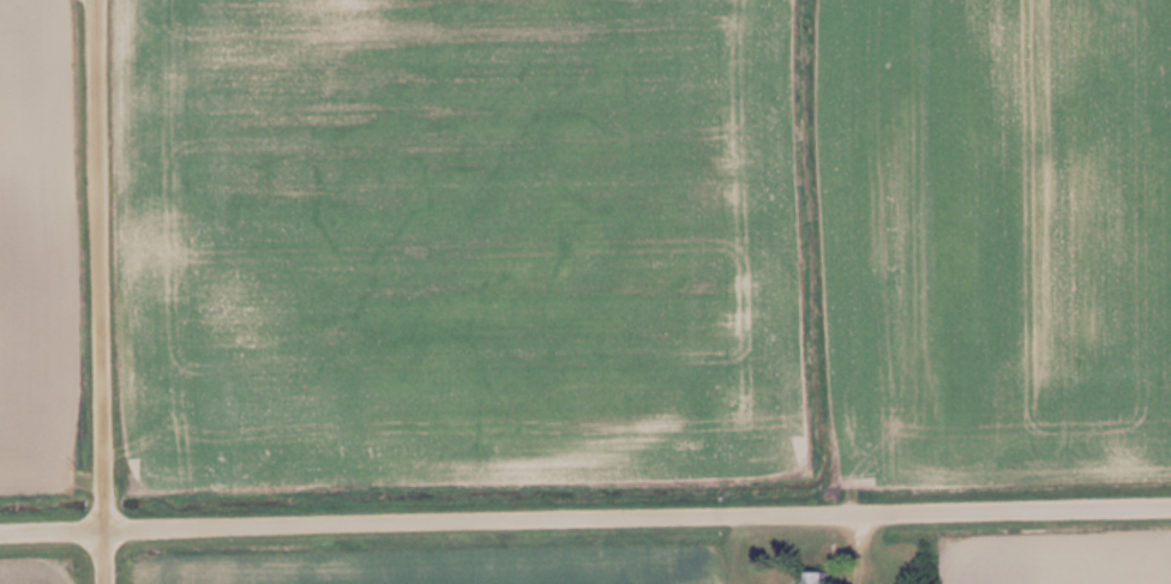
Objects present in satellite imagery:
road: (94, 291)
road: (584, 520)
building: (825, 577)

